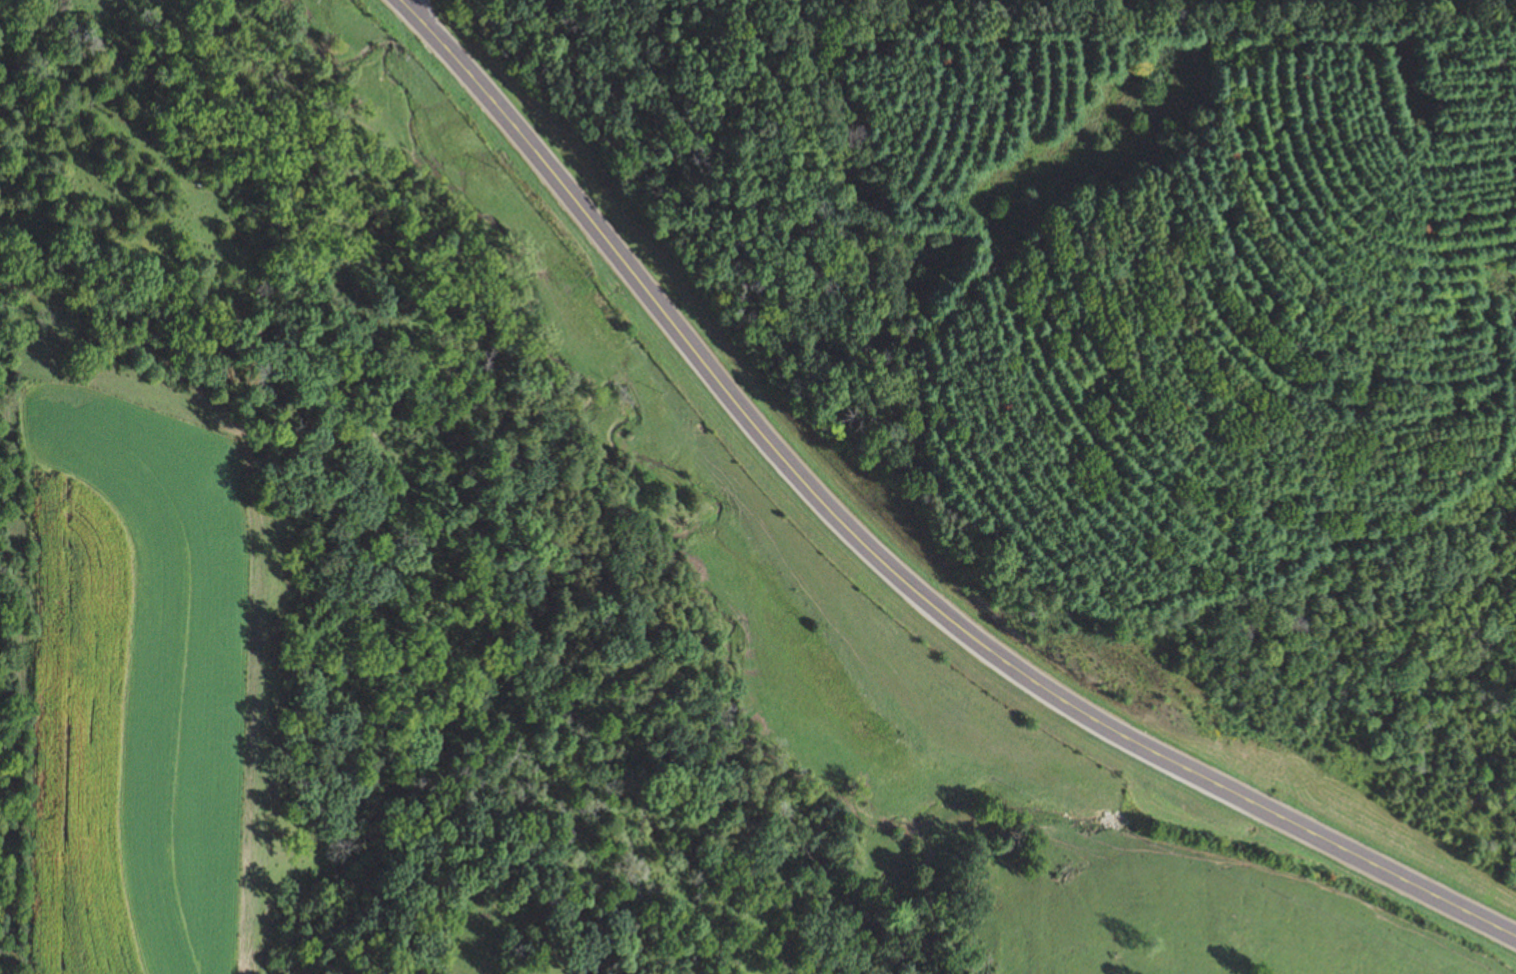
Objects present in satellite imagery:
road: (418, 8)
road: (882, 560)

